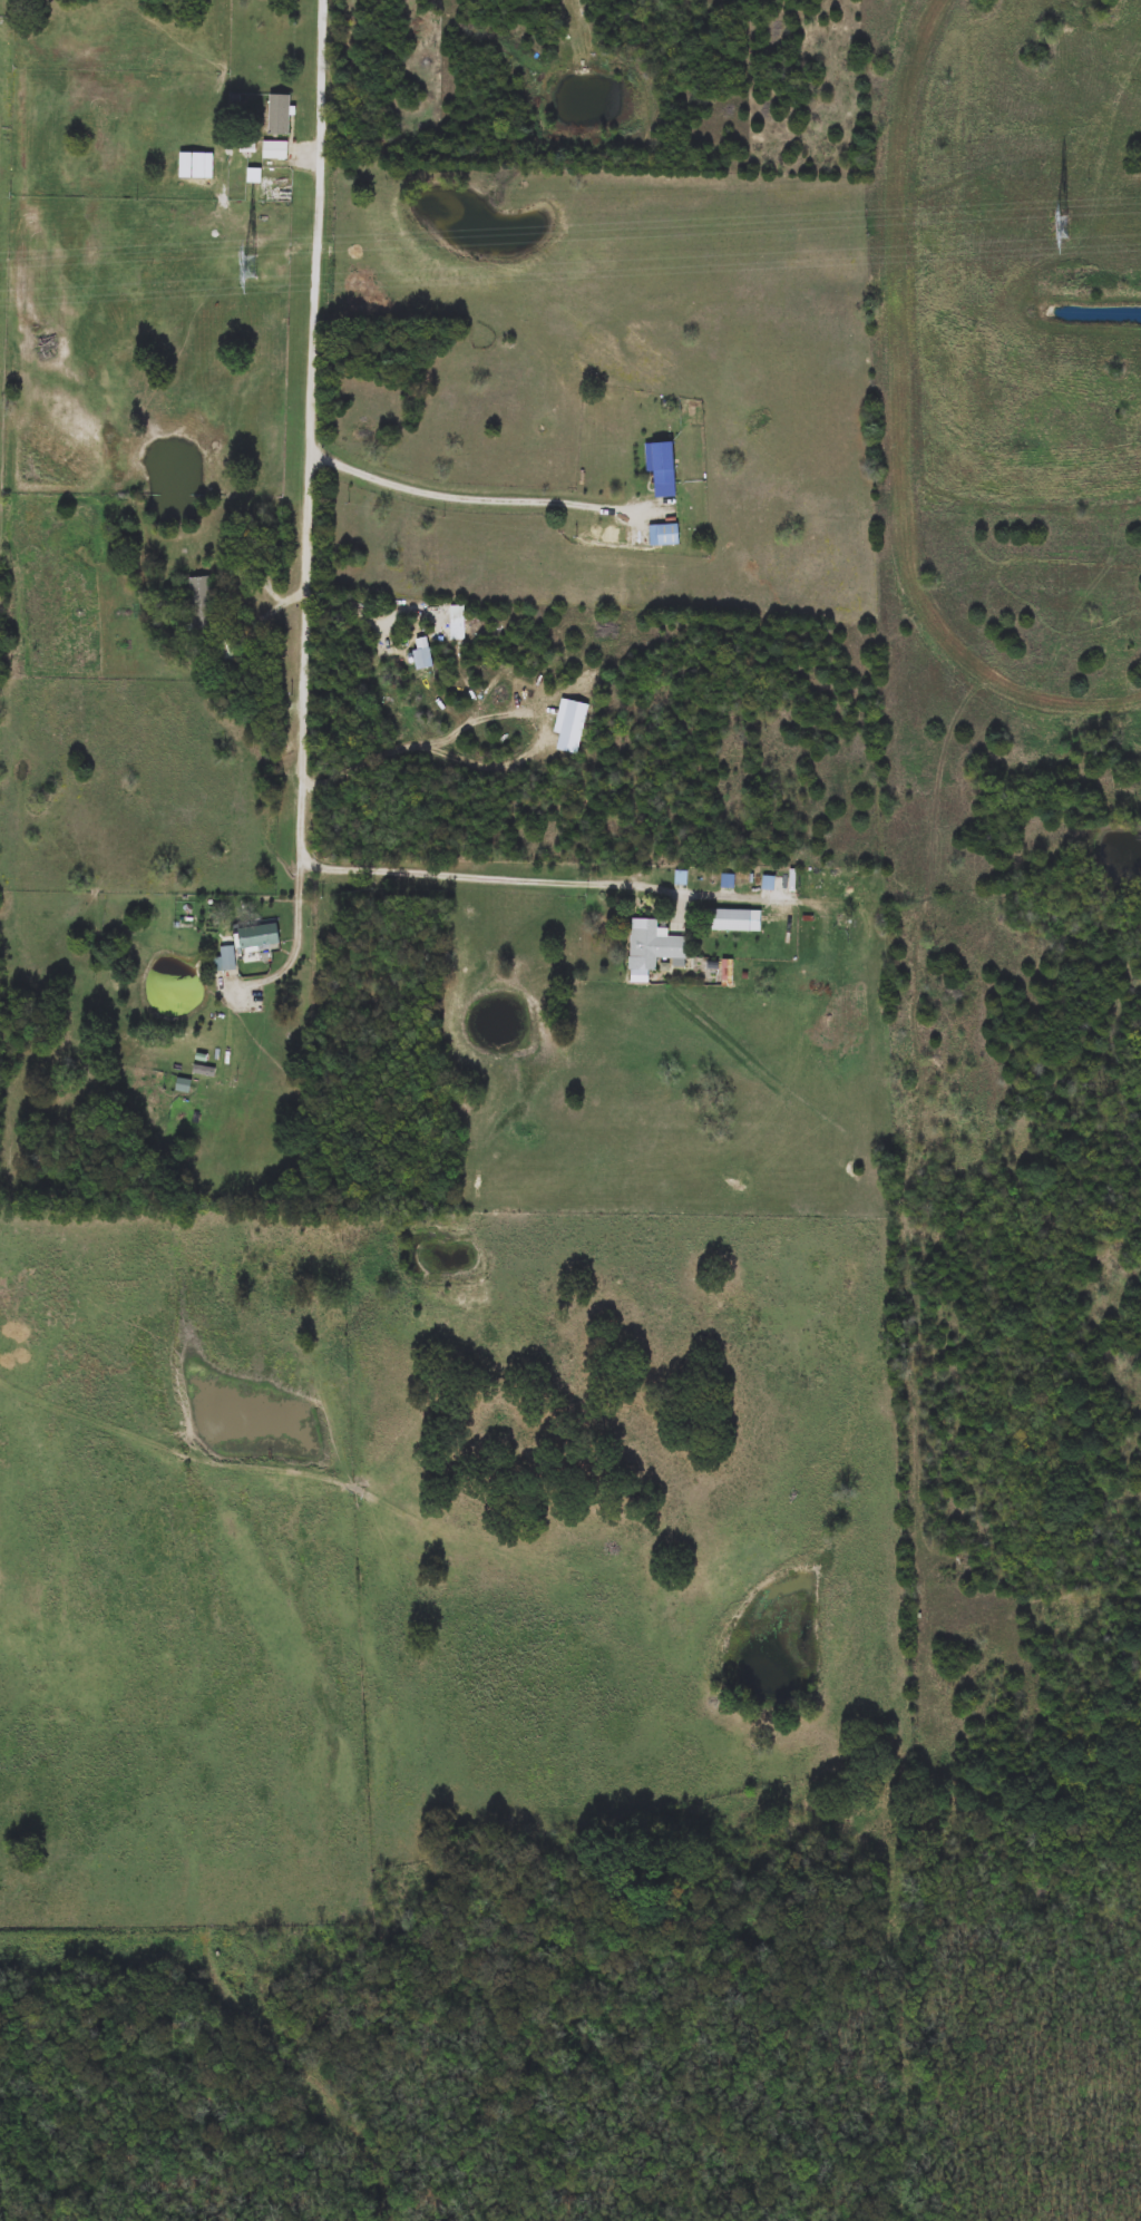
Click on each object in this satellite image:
building: (279, 115)
building: (275, 150)
road: (1, 214)
power tower: (1061, 228)
power tower: (250, 269)
building: (662, 467)
road: (467, 498)
road: (311, 508)
building: (664, 534)
building: (202, 603)
building: (224, 651)
road: (491, 878)
building: (730, 920)
building: (259, 936)
building: (653, 944)
building: (228, 958)

